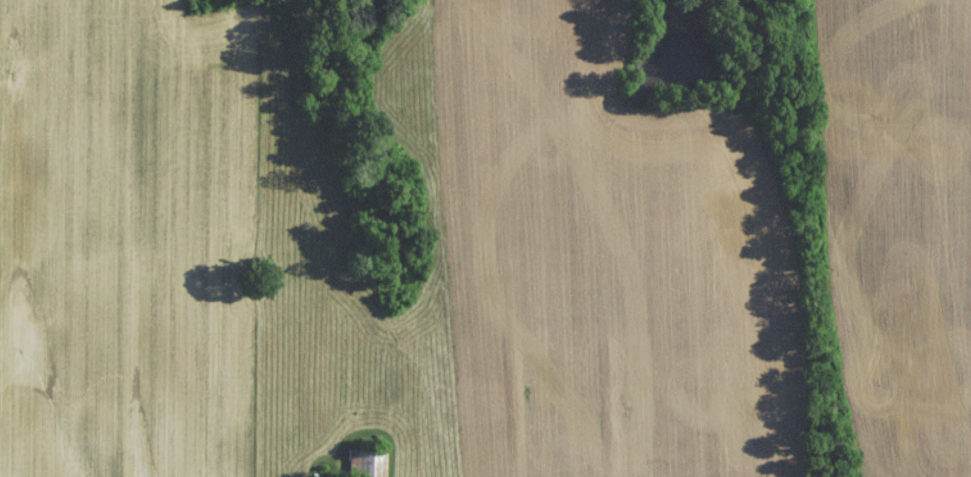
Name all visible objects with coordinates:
building: (368, 465)

